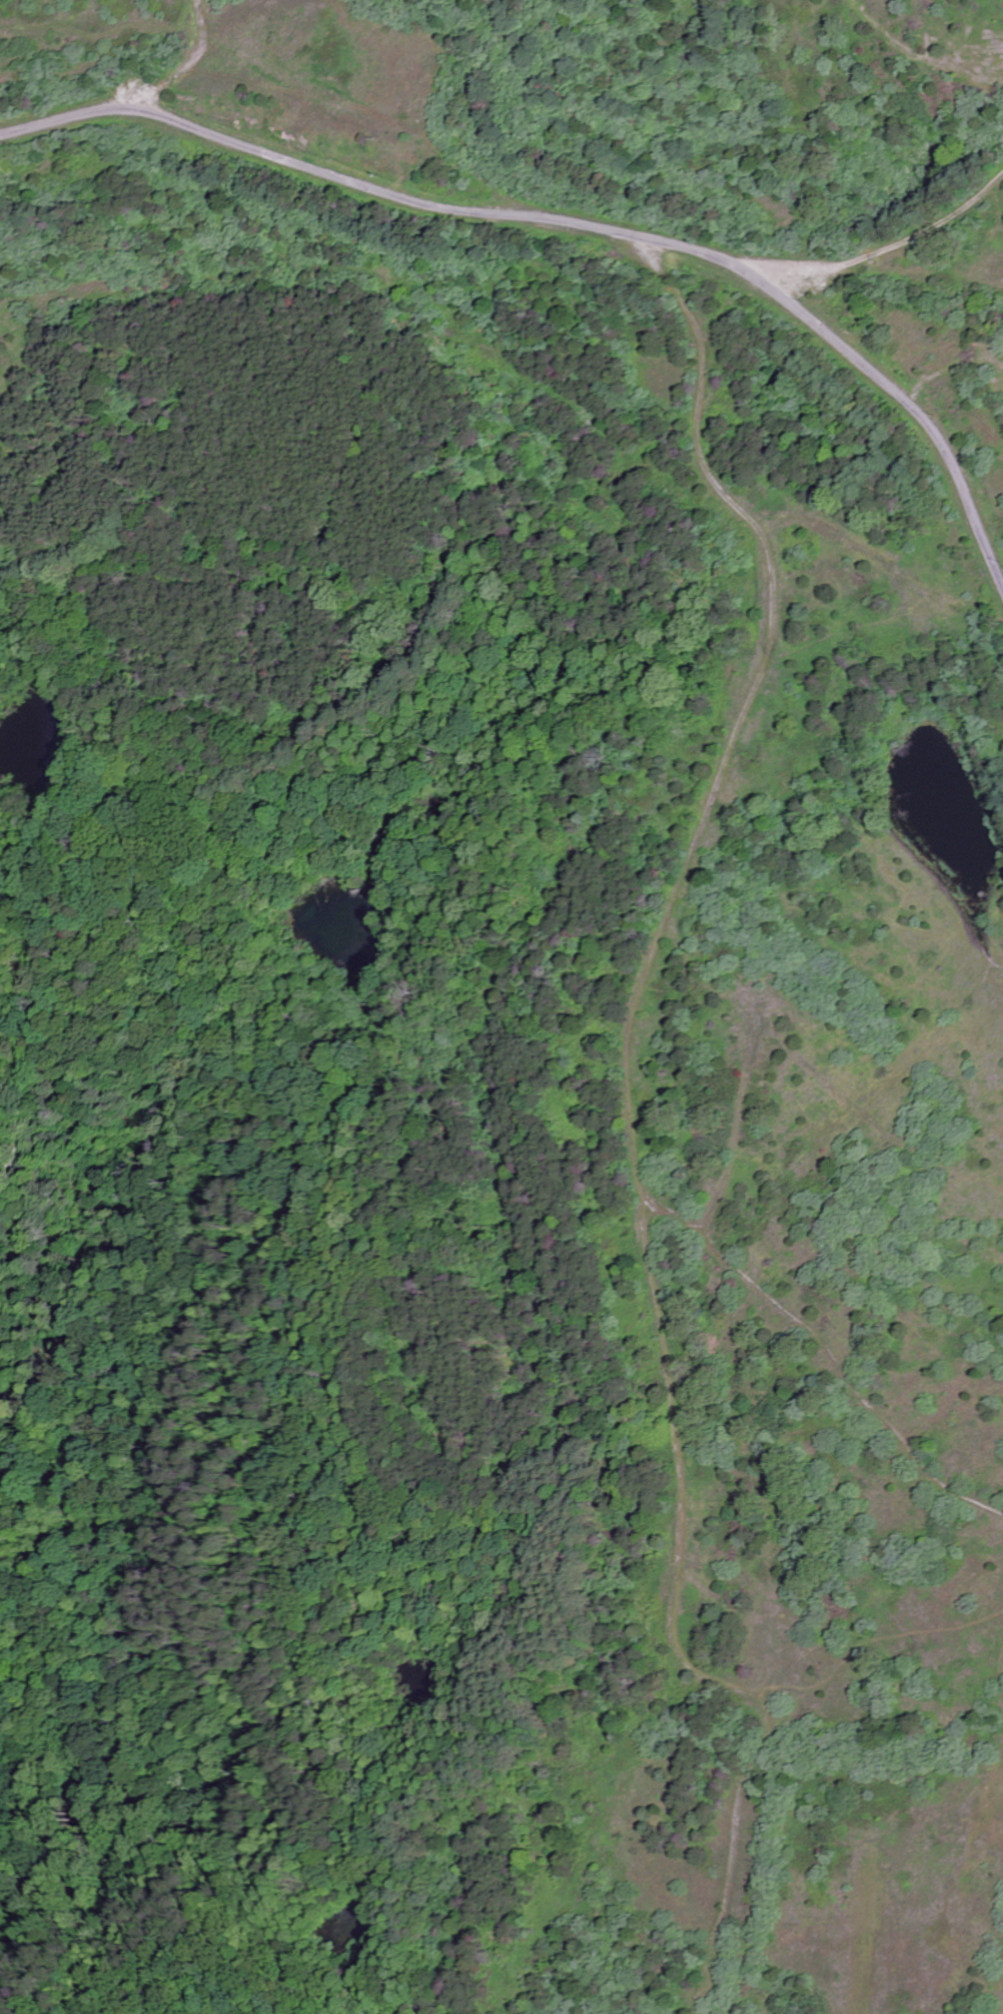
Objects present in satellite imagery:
road: (189, 64)
road: (571, 220)
road: (888, 245)
road: (639, 1126)
road: (836, 1345)

